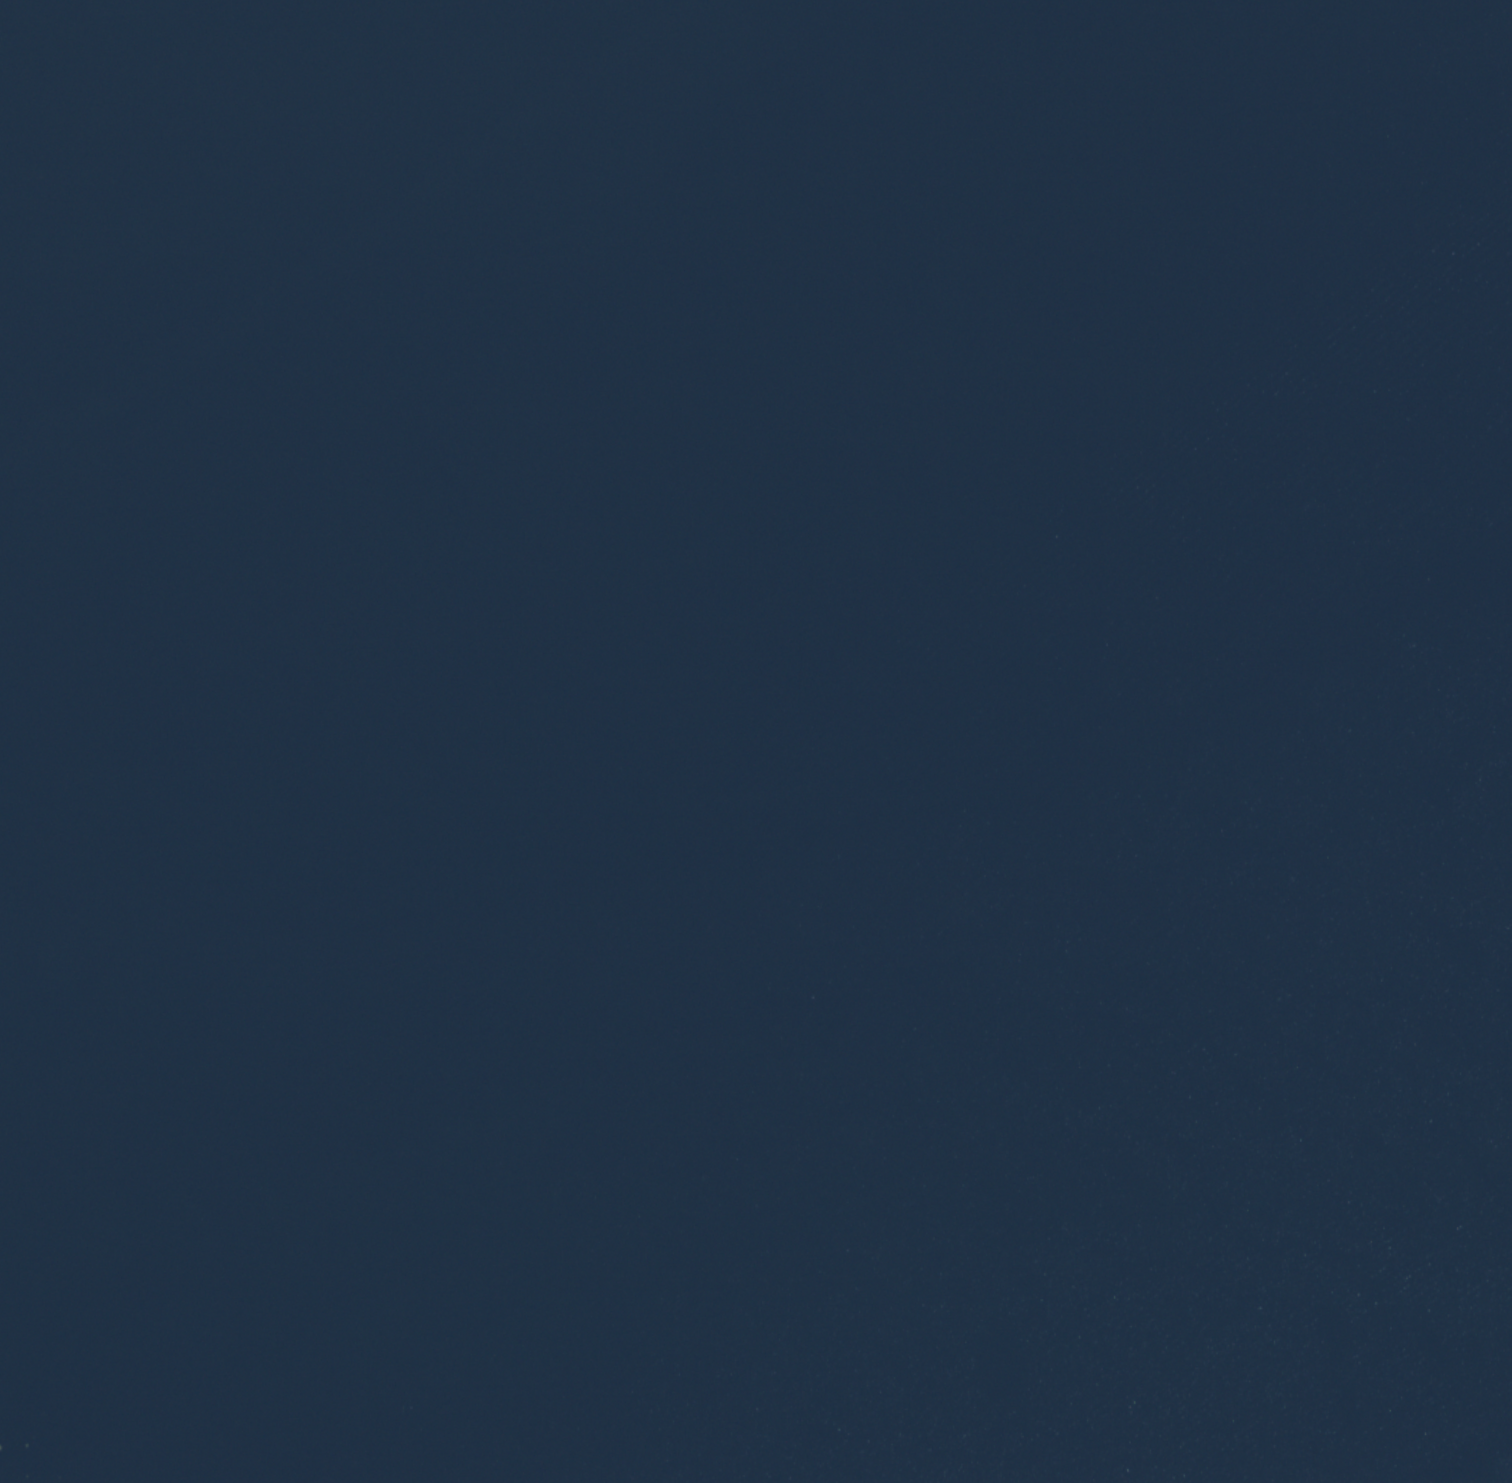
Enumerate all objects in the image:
river: (1491, 1478)

